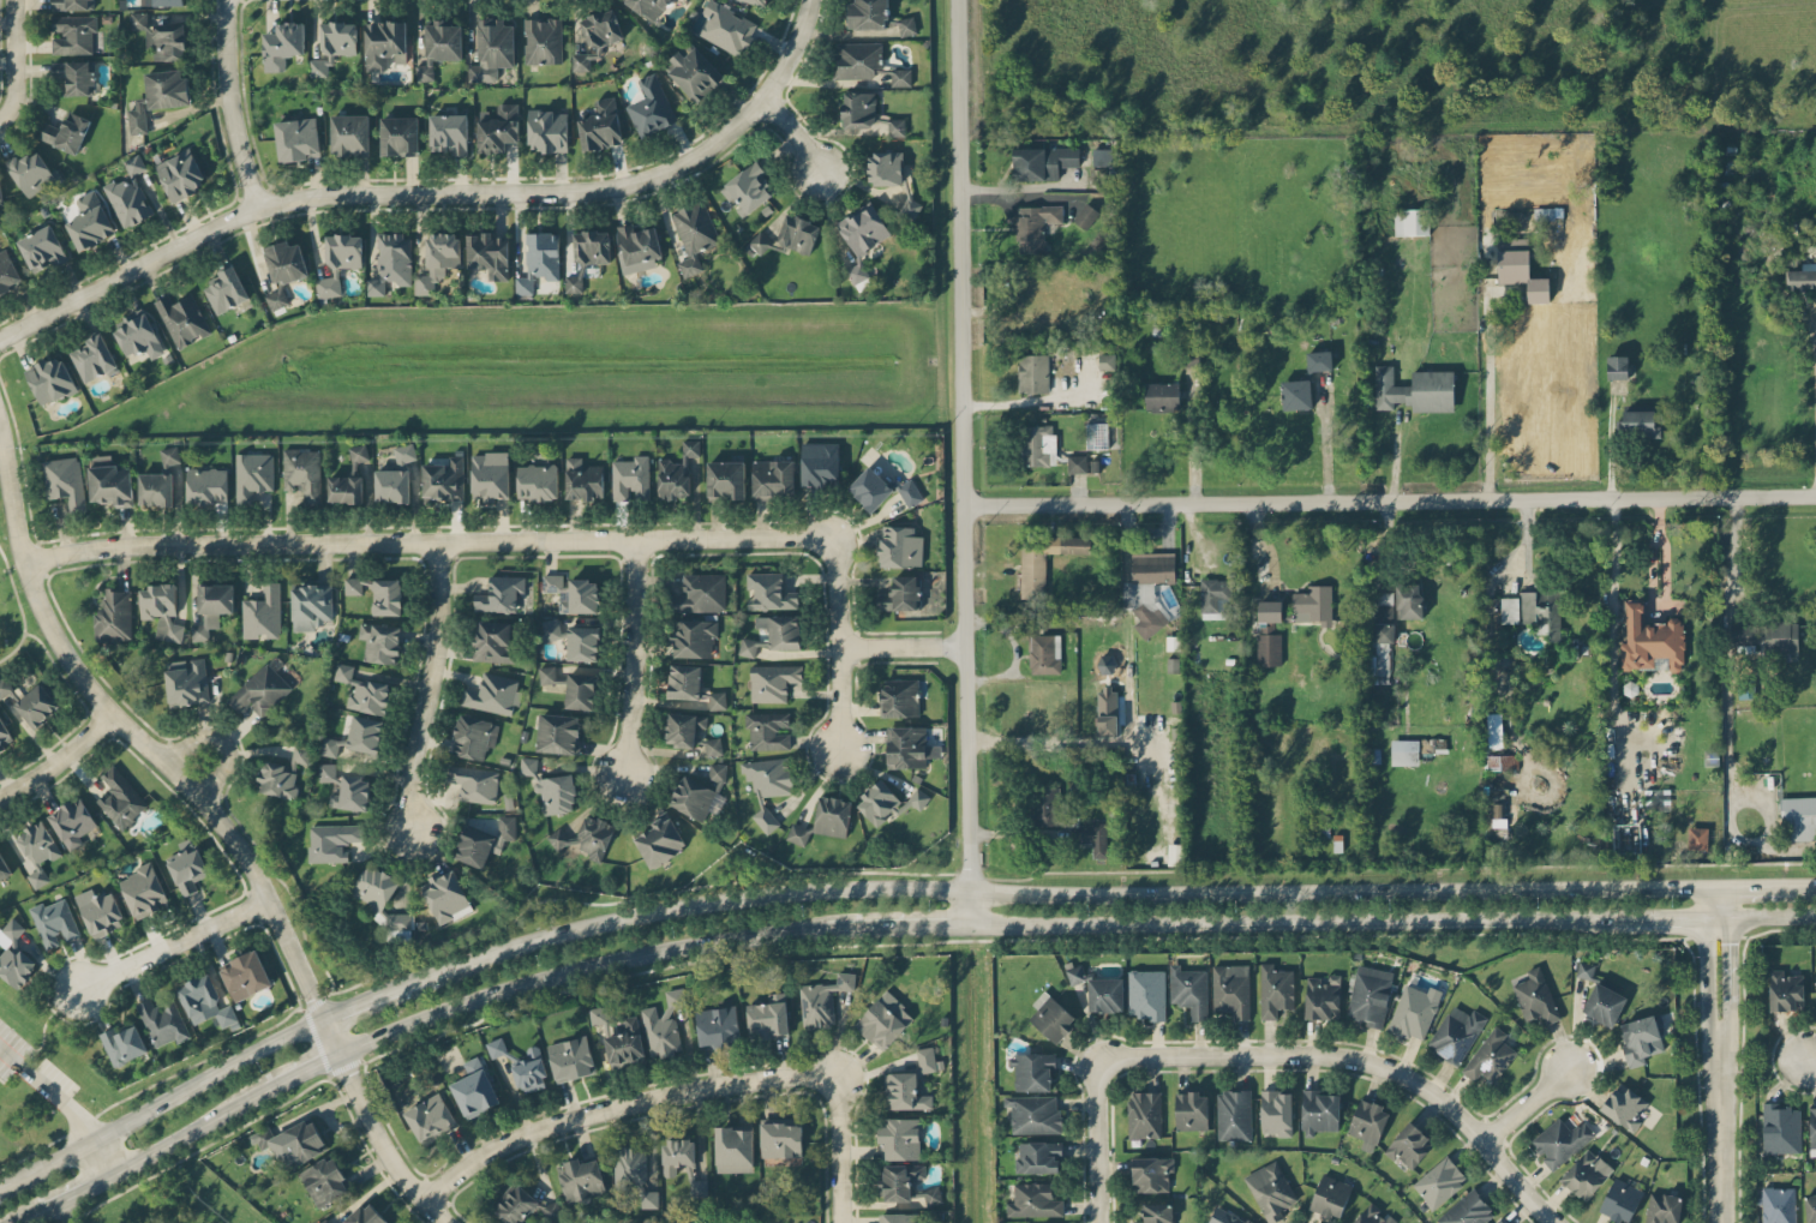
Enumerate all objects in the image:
building: (756, 1)
building: (163, 2)
building: (73, 5)
building: (648, 7)
building: (868, 14)
building: (906, 25)
building: (727, 28)
building: (73, 34)
building: (598, 36)
building: (161, 37)
building: (338, 37)
building: (543, 40)
building: (282, 44)
building: (384, 44)
building: (439, 47)
building: (492, 49)
road: (11, 60)
building: (857, 60)
building: (319, 66)
building: (694, 72)
building: (76, 76)
building: (901, 77)
building: (158, 96)
road: (230, 106)
building: (651, 107)
building: (858, 109)
building: (600, 125)
building: (895, 126)
building: (498, 128)
building: (547, 131)
building: (66, 132)
building: (449, 132)
road: (793, 132)
building: (349, 134)
building: (398, 136)
building: (296, 138)
building: (1102, 156)
building: (1042, 162)
building: (885, 168)
building: (32, 173)
building: (180, 174)
building: (748, 187)
road: (1018, 187)
road: (434, 192)
building: (128, 194)
building: (0, 198)
building: (911, 208)
building: (1086, 216)
building: (1412, 221)
building: (89, 222)
building: (1035, 226)
building: (798, 233)
building: (694, 234)
building: (863, 236)
building: (759, 244)
building: (42, 248)
building: (637, 248)
building: (489, 253)
building: (587, 256)
building: (437, 260)
building: (539, 260)
building: (286, 262)
building: (340, 262)
building: (391, 262)
building: (1520, 268)
building: (7, 272)
building: (1802, 276)
building: (226, 290)
building: (276, 299)
road: (1815, 316)
building: (182, 319)
building: (139, 336)
building: (1187, 358)
building: (94, 359)
building: (1321, 360)
building: (1107, 361)
building: (1617, 366)
building: (1033, 372)
building: (50, 379)
building: (1415, 389)
building: (1296, 394)
building: (1162, 395)
road: (1490, 400)
building: (1640, 424)
building: (1096, 434)
road: (1193, 440)
road: (1325, 443)
road: (1610, 443)
building: (1036, 444)
building: (358, 452)
building: (404, 452)
building: (169, 455)
road: (959, 461)
building: (1077, 463)
building: (820, 464)
building: (301, 472)
building: (677, 473)
building: (252, 475)
building: (490, 475)
building: (630, 478)
building: (773, 478)
building: (443, 479)
building: (582, 479)
building: (725, 479)
building: (65, 481)
building: (109, 481)
building: (537, 481)
building: (206, 485)
building: (391, 485)
building: (156, 488)
building: (344, 488)
building: (881, 488)
road: (1388, 500)
road: (394, 544)
building: (900, 546)
road: (1664, 550)
building: (1044, 559)
building: (353, 584)
building: (1147, 587)
building: (768, 592)
building: (573, 593)
building: (701, 593)
building: (499, 594)
building: (901, 594)
building: (386, 596)
building: (1215, 598)
building: (1408, 600)
road: (840, 601)
building: (1313, 604)
building: (1384, 605)
building: (311, 606)
building: (211, 607)
building: (161, 610)
building: (1534, 610)
road: (20, 611)
building: (1272, 611)
building: (262, 613)
building: (114, 616)
road: (1607, 617)
building: (551, 628)
building: (781, 630)
building: (1742, 634)
building: (1781, 636)
building: (694, 637)
building: (1650, 640)
building: (493, 641)
building: (379, 642)
building: (583, 643)
building: (747, 647)
road: (901, 647)
building: (1269, 648)
building: (1379, 651)
building: (1044, 653)
road: (1014, 654)
road: (1726, 657)
road: (633, 658)
building: (1173, 665)
building: (547, 675)
road: (64, 681)
building: (684, 681)
building: (186, 682)
building: (772, 682)
road: (426, 685)
building: (6, 687)
building: (260, 690)
building: (581, 690)
building: (362, 691)
building: (492, 694)
building: (900, 697)
building: (717, 700)
building: (36, 705)
building: (1107, 711)
building: (683, 727)
building: (1494, 729)
building: (767, 730)
building: (365, 733)
building: (558, 733)
building: (4, 735)
building: (473, 737)
road: (1018, 739)
road: (218, 743)
building: (329, 747)
building: (910, 748)
building: (1404, 751)
road: (56, 760)
building: (326, 772)
building: (282, 773)
building: (768, 775)
building: (474, 783)
building: (352, 793)
building: (556, 793)
building: (693, 797)
building: (120, 798)
building: (918, 798)
building: (879, 803)
building: (1044, 805)
building: (1497, 814)
building: (832, 815)
building: (765, 819)
building: (73, 822)
road: (221, 823)
building: (798, 834)
building: (587, 837)
building: (1091, 838)
building: (1697, 838)
building: (660, 840)
building: (331, 841)
building: (484, 841)
building: (37, 851)
building: (4, 868)
building: (187, 870)
road: (1803, 883)
road: (1748, 885)
building: (143, 889)
road: (1336, 891)
building: (446, 897)
building: (382, 901)
road: (709, 903)
building: (100, 912)
road: (1760, 916)
road: (1658, 917)
road: (1290, 919)
building: (53, 921)
road: (916, 924)
building: (12, 929)
road: (174, 945)
road: (1728, 952)
road: (593, 964)
building: (16, 966)
building: (1584, 970)
building: (1075, 973)
building: (246, 975)
building: (1815, 976)
building: (1231, 989)
road: (389, 990)
building: (1188, 990)
building: (1275, 990)
building: (1786, 990)
building: (1105, 994)
building: (1145, 994)
building: (1370, 994)
building: (1535, 996)
building: (1323, 997)
road: (1704, 1000)
building: (204, 1001)
building: (822, 1001)
building: (1604, 1003)
building: (1414, 1011)
building: (598, 1014)
building: (768, 1017)
building: (1051, 1017)
building: (883, 1020)
building: (162, 1021)
building: (664, 1023)
building: (718, 1026)
building: (1456, 1033)
building: (1641, 1038)
building: (122, 1044)
building: (625, 1044)
building: (1490, 1056)
road: (1810, 1056)
building: (571, 1057)
road: (1356, 1062)
road: (1724, 1066)
building: (529, 1071)
building: (1033, 1071)
road: (301, 1072)
road: (205, 1075)
building: (910, 1083)
building: (474, 1087)
road: (47, 1092)
park: (36, 1093)
road: (1526, 1103)
road: (619, 1105)
building: (1624, 1107)
building: (1191, 1110)
building: (1276, 1111)
building: (1319, 1111)
building: (1033, 1113)
building: (1144, 1114)
building: (1233, 1115)
building: (430, 1117)
building: (1368, 1123)
building: (1781, 1128)
road: (187, 1131)
building: (1812, 1132)
building: (781, 1138)
building: (900, 1138)
road: (1098, 1140)
building: (1560, 1141)
building: (293, 1143)
building: (1409, 1145)
road: (838, 1146)
building: (733, 1149)
road: (100, 1153)
building: (677, 1155)
road: (50, 1156)
building: (1038, 1156)
building: (629, 1167)
road: (1719, 1168)
building: (1151, 1174)
building: (1586, 1174)
road: (5, 1179)
building: (581, 1180)
building: (898, 1180)
building: (325, 1181)
building: (1439, 1181)
building: (697, 1186)
road: (72, 1189)
building: (1270, 1189)
building: (928, 1195)
building: (1330, 1195)
building: (649, 1199)
building: (1035, 1200)
building: (1620, 1200)
building: (1779, 1204)
building: (517, 1205)
building: (1664, 1207)
building: (1810, 1207)
building: (550, 1210)
building: (1467, 1210)
building: (1156, 1213)
building: (365, 1215)
road: (23, 1216)
building: (898, 1217)
building: (1225, 1217)
building: (323, 1221)
building: (1498, 1222)

